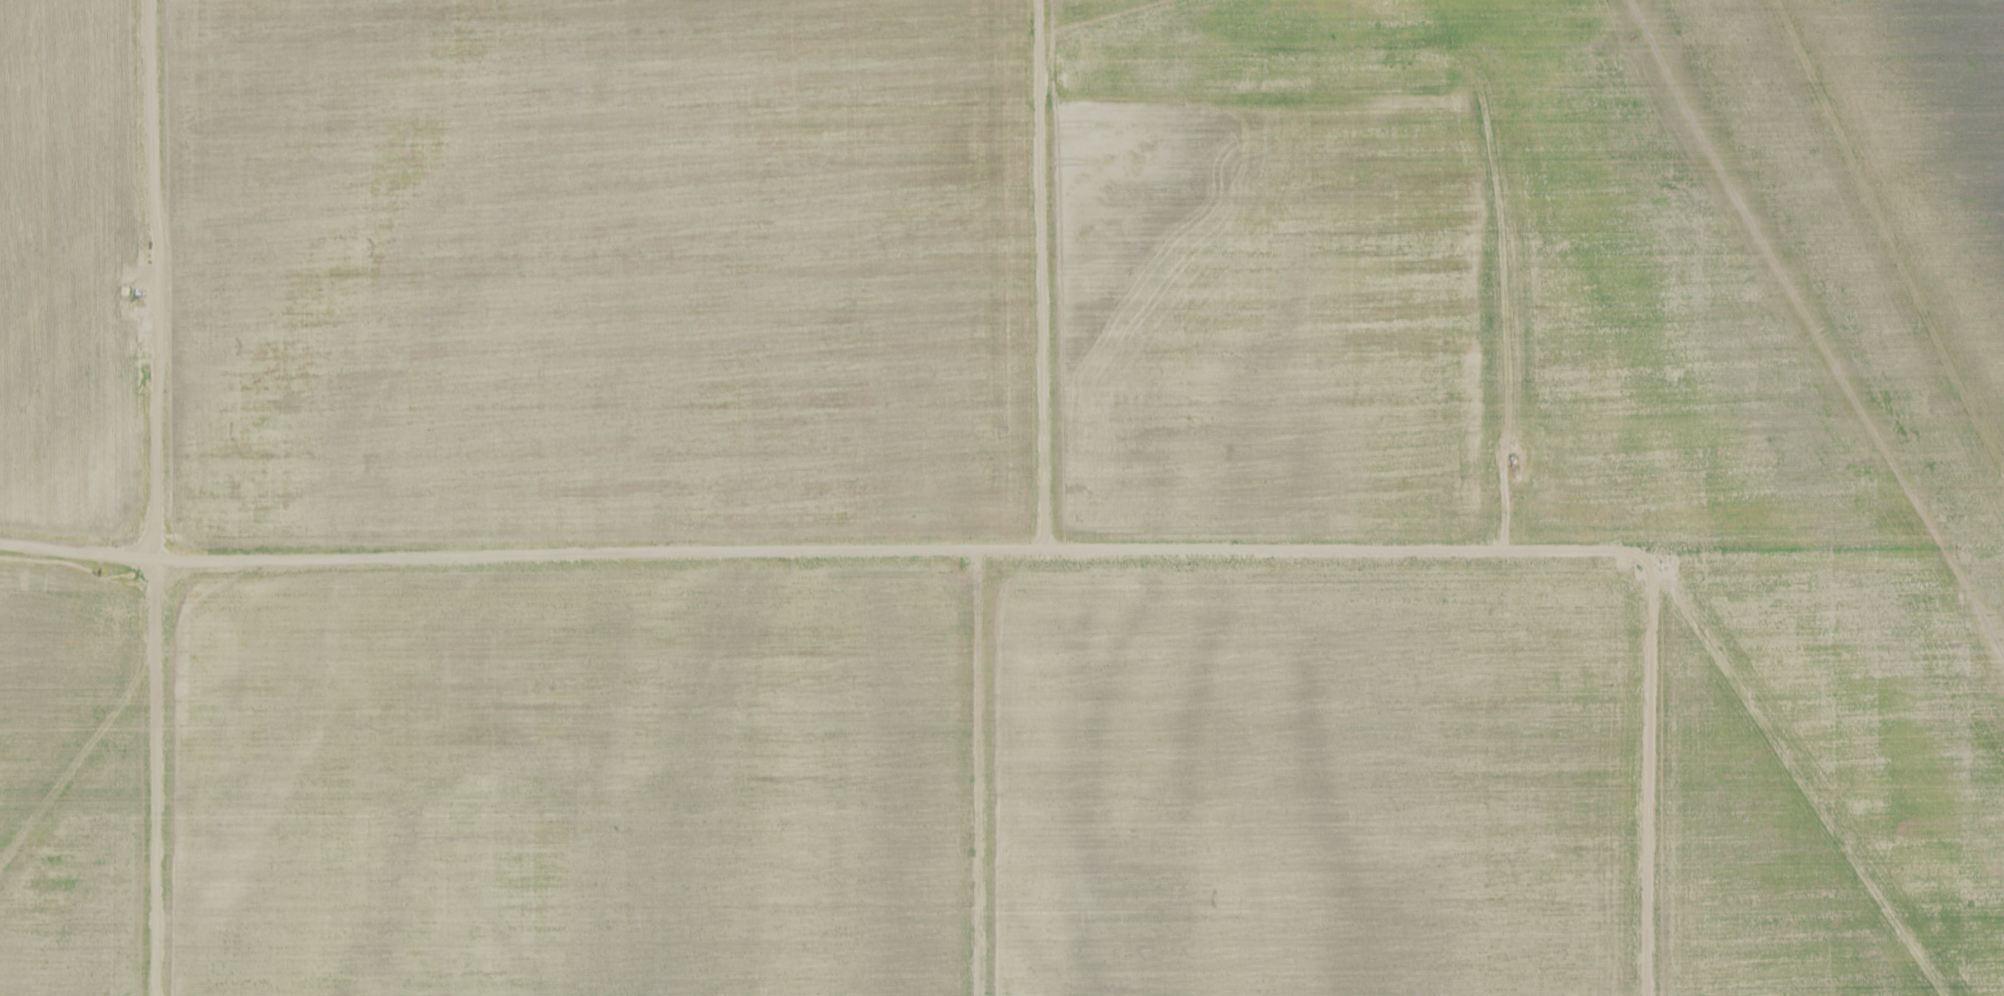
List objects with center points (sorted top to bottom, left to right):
road: (81, 520)
road: (1085, 550)
road: (163, 762)
road: (968, 773)

